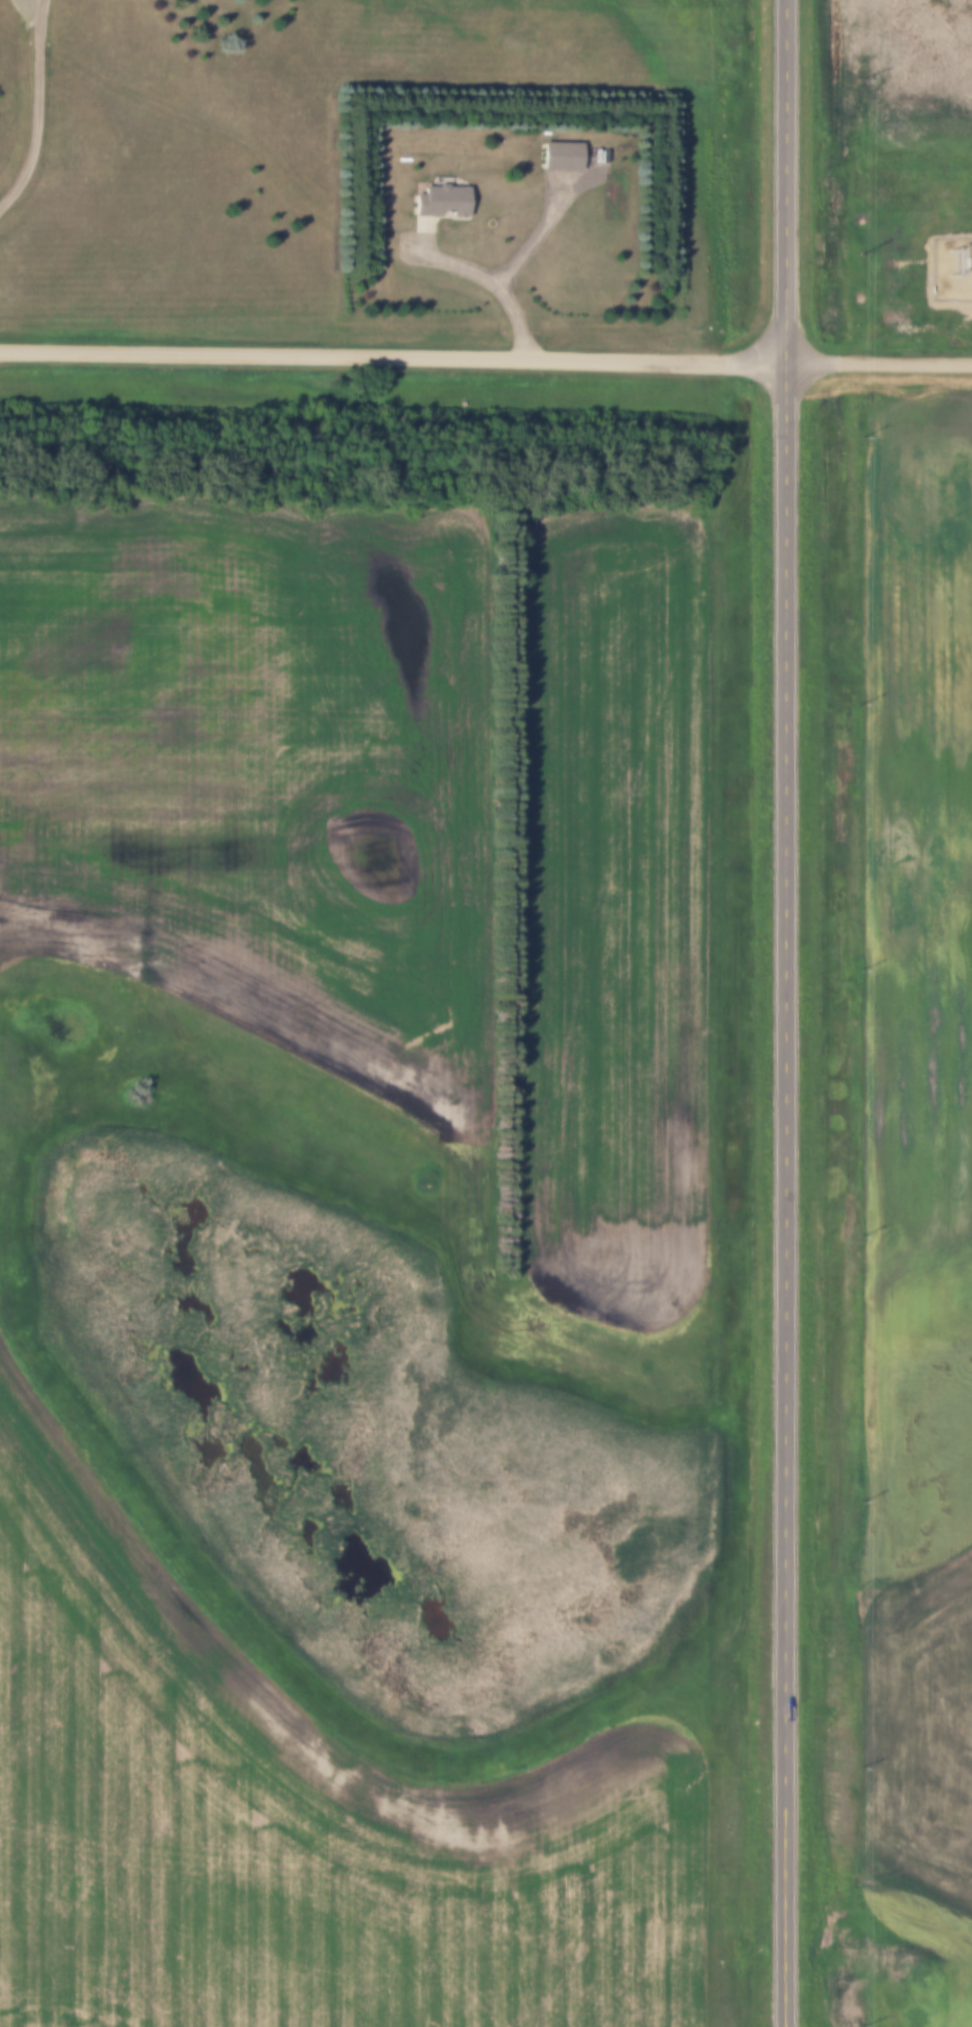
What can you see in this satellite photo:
road: (41, 109)
building: (564, 158)
building: (445, 204)
power substation: (952, 270)
road: (485, 357)
road: (782, 1013)

